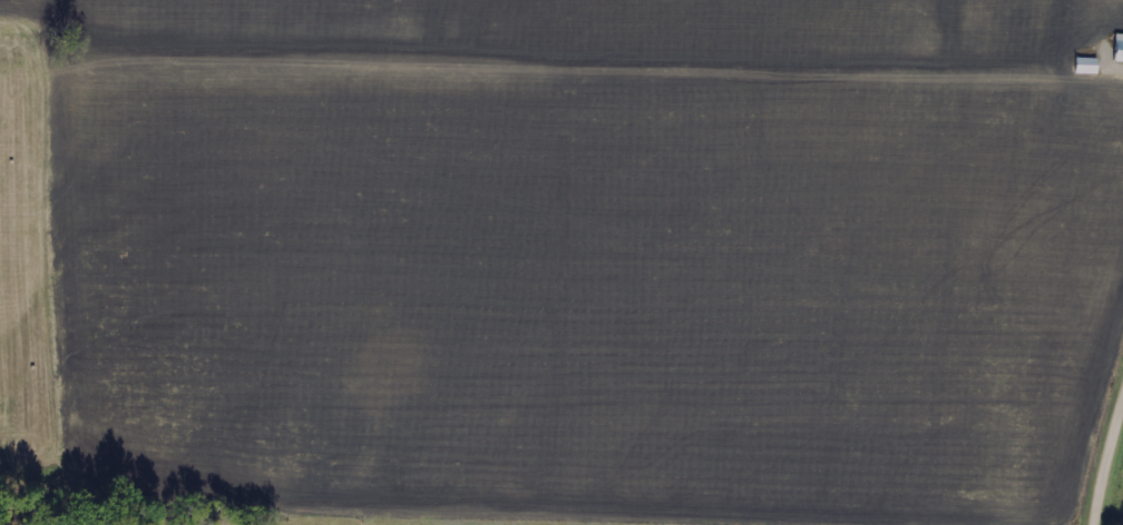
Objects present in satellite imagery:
road: (1111, 465)

